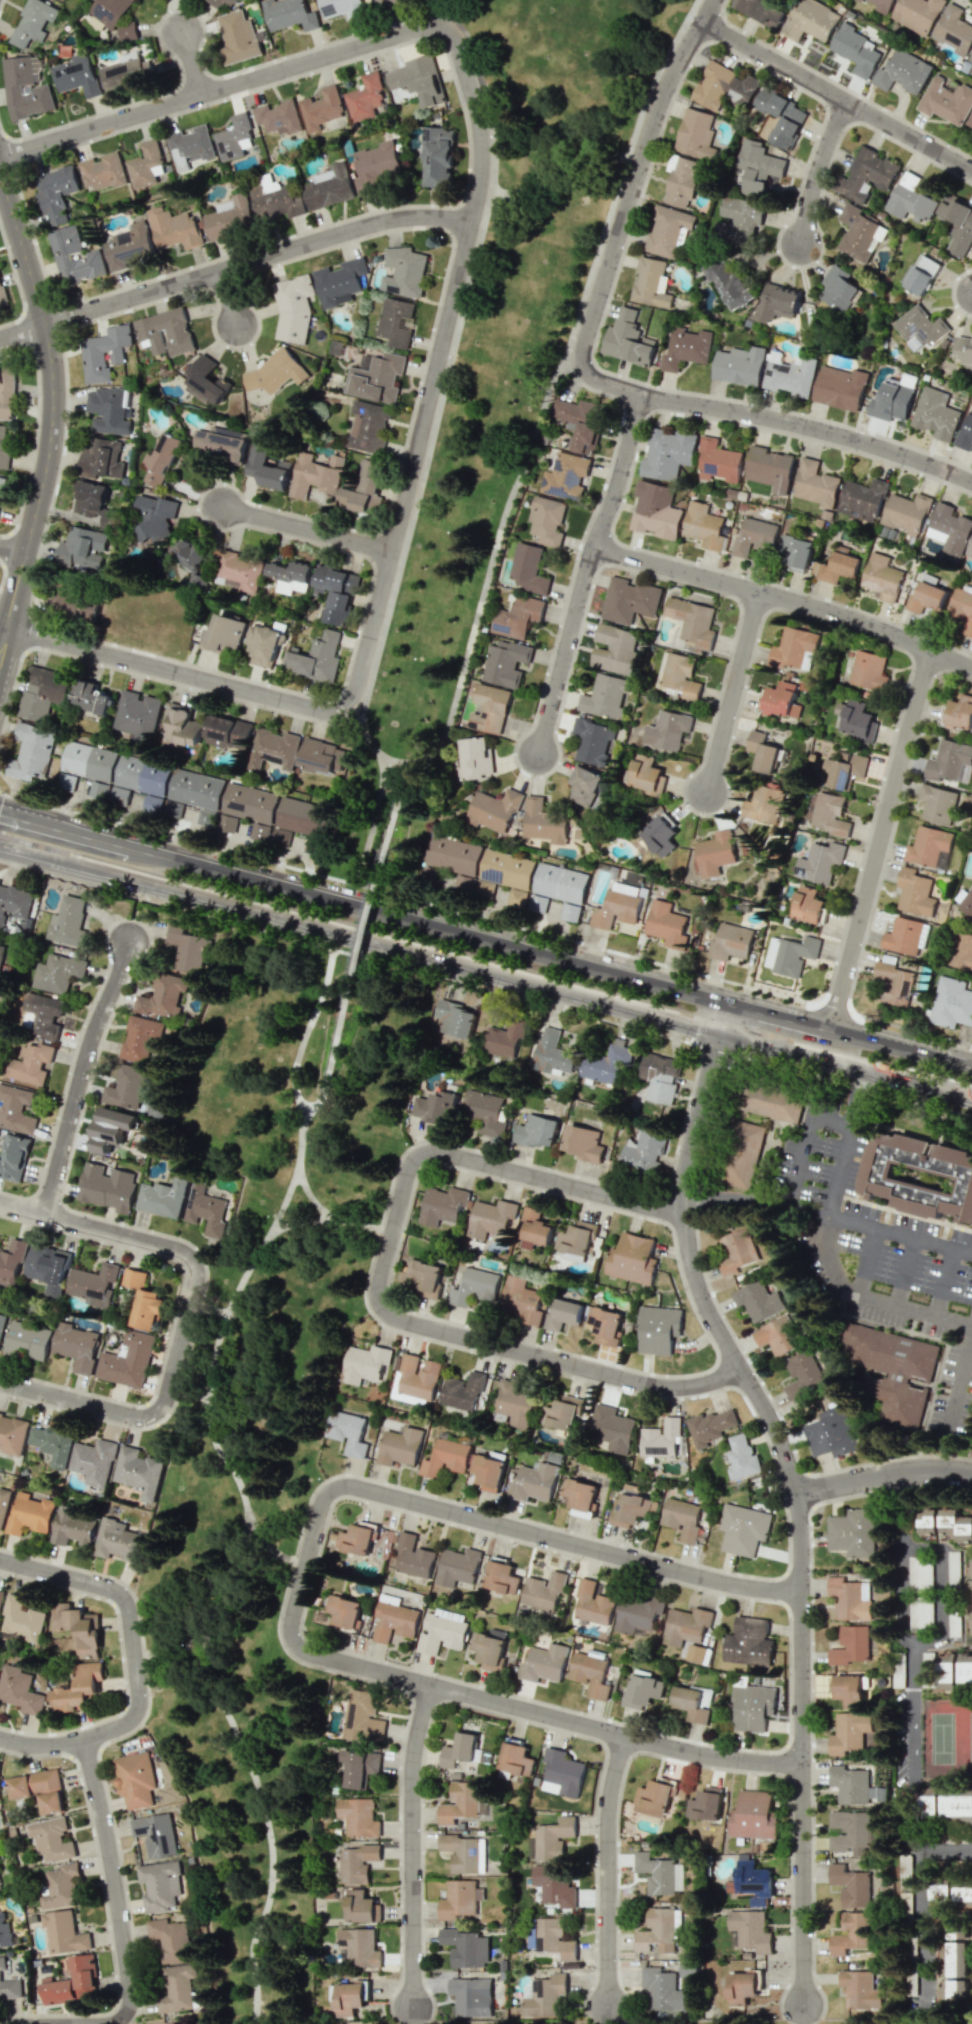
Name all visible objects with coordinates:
building: (65, 0)
building: (860, 0)
building: (391, 2)
building: (216, 5)
building: (882, 5)
building: (341, 7)
building: (762, 11)
building: (289, 14)
building: (917, 14)
building: (112, 17)
building: (811, 21)
building: (33, 22)
building: (953, 29)
building: (237, 37)
building: (856, 50)
building: (970, 58)
road: (192, 63)
building: (902, 72)
building: (126, 73)
building: (77, 74)
building: (418, 80)
building: (724, 87)
building: (24, 88)
road: (838, 94)
building: (364, 97)
building: (946, 100)
building: (321, 108)
building: (279, 117)
building: (782, 117)
building: (970, 122)
building: (696, 134)
building: (234, 138)
building: (190, 147)
building: (440, 158)
building: (146, 166)
building: (375, 166)
building: (758, 166)
road: (817, 170)
building: (103, 172)
building: (866, 175)
building: (682, 182)
building: (330, 187)
building: (56, 193)
building: (911, 197)
building: (275, 199)
building: (230, 217)
building: (738, 220)
building: (958, 224)
building: (174, 228)
building: (668, 230)
building: (860, 233)
building: (129, 246)
building: (62, 255)
road: (235, 266)
building: (404, 271)
building: (923, 274)
building: (340, 282)
building: (652, 282)
building: (730, 283)
building: (839, 288)
building: (2, 295)
road: (227, 298)
building: (777, 302)
building: (293, 308)
road: (451, 310)
building: (395, 321)
building: (920, 328)
building: (165, 332)
building: (628, 339)
building: (686, 348)
building: (964, 350)
building: (104, 352)
building: (739, 365)
building: (276, 371)
road: (589, 373)
road: (580, 374)
building: (376, 377)
building: (206, 380)
building: (840, 387)
park: (496, 389)
building: (7, 392)
building: (107, 410)
building: (936, 414)
road: (51, 416)
building: (581, 423)
building: (368, 427)
road: (539, 428)
building: (966, 432)
building: (222, 443)
building: (4, 449)
building: (668, 453)
building: (102, 459)
building: (163, 460)
building: (718, 461)
building: (267, 468)
building: (770, 468)
road: (620, 471)
building: (316, 474)
building: (566, 476)
building: (815, 483)
building: (1, 484)
building: (363, 490)
building: (90, 496)
building: (863, 499)
building: (655, 510)
building: (907, 512)
building: (155, 518)
building: (547, 520)
building: (704, 526)
building: (950, 528)
road: (306, 530)
building: (754, 537)
building: (83, 549)
road: (12, 551)
building: (970, 551)
building: (796, 552)
building: (189, 554)
building: (838, 565)
building: (528, 568)
building: (238, 571)
building: (291, 576)
building: (882, 577)
building: (337, 592)
building: (927, 597)
building: (629, 600)
road: (785, 600)
building: (74, 604)
building: (962, 608)
building: (517, 617)
building: (692, 621)
building: (225, 632)
building: (263, 645)
building: (793, 647)
building: (616, 649)
road: (564, 650)
building: (316, 658)
building: (506, 662)
building: (868, 670)
building: (679, 676)
building: (43, 692)
road: (734, 694)
building: (606, 696)
building: (90, 698)
building: (782, 699)
building: (490, 708)
building: (959, 712)
building: (857, 719)
building: (184, 728)
building: (668, 730)
building: (229, 732)
building: (593, 740)
building: (273, 749)
building: (762, 751)
building: (31, 752)
building: (321, 756)
building: (475, 758)
building: (949, 761)
building: (87, 763)
building: (844, 770)
building: (145, 780)
building: (585, 786)
building: (100, 789)
building: (196, 789)
building: (120, 795)
building: (938, 803)
building: (763, 805)
building: (174, 809)
building: (249, 810)
building: (494, 810)
building: (828, 813)
building: (206, 817)
building: (304, 819)
building: (544, 822)
building: (660, 835)
building: (280, 836)
road: (880, 841)
road: (6, 842)
building: (928, 845)
building: (720, 851)
building: (452, 861)
building: (820, 862)
road: (93, 865)
building: (506, 869)
building: (556, 886)
building: (484, 888)
building: (915, 892)
building: (516, 897)
building: (14, 902)
building: (967, 903)
building: (808, 904)
building: (617, 906)
building: (570, 911)
building: (68, 921)
road: (366, 922)
building: (667, 924)
building: (903, 935)
building: (731, 942)
road: (485, 944)
building: (186, 946)
building: (790, 954)
building: (1, 956)
building: (58, 972)
building: (895, 983)
road: (573, 989)
building: (163, 996)
building: (951, 1003)
building: (43, 1015)
building: (454, 1018)
road: (311, 1021)
building: (140, 1038)
building: (503, 1041)
building: (552, 1054)
road: (331, 1059)
building: (31, 1062)
building: (607, 1064)
road: (81, 1076)
building: (660, 1076)
building: (127, 1088)
building: (770, 1104)
building: (16, 1108)
building: (487, 1113)
road: (831, 1121)
building: (112, 1128)
building: (537, 1131)
building: (582, 1143)
building: (643, 1151)
building: (743, 1154)
building: (14, 1157)
road: (836, 1172)
road: (298, 1174)
building: (919, 1175)
building: (108, 1187)
building: (163, 1197)
road: (741, 1197)
building: (442, 1205)
building: (206, 1209)
building: (492, 1217)
road: (331, 1219)
road: (303, 1222)
road: (817, 1227)
building: (535, 1228)
road: (897, 1236)
building: (575, 1241)
building: (736, 1252)
building: (631, 1259)
road: (864, 1261)
building: (11, 1262)
building: (48, 1268)
road: (827, 1268)
road: (903, 1273)
building: (425, 1277)
road: (379, 1279)
building: (94, 1284)
road: (942, 1284)
building: (475, 1287)
building: (143, 1300)
building: (521, 1300)
building: (757, 1300)
road: (209, 1309)
building: (563, 1314)
road: (186, 1319)
building: (2, 1323)
building: (606, 1325)
building: (658, 1329)
building: (778, 1336)
building: (28, 1340)
building: (77, 1346)
building: (127, 1360)
building: (364, 1364)
road: (213, 1368)
building: (893, 1372)
building: (804, 1374)
building: (414, 1379)
road: (961, 1385)
building: (462, 1391)
road: (189, 1395)
building: (514, 1404)
building: (563, 1412)
park: (265, 1423)
building: (710, 1426)
building: (612, 1429)
building: (347, 1432)
building: (12, 1434)
building: (830, 1435)
building: (661, 1439)
building: (52, 1443)
building: (400, 1446)
building: (741, 1457)
building: (445, 1458)
building: (93, 1461)
building: (488, 1470)
building: (137, 1472)
road: (884, 1477)
building: (534, 1482)
road: (797, 1492)
building: (580, 1496)
building: (633, 1509)
building: (30, 1514)
building: (682, 1518)
building: (930, 1523)
building: (956, 1525)
building: (73, 1527)
building: (743, 1529)
building: (852, 1533)
building: (357, 1538)
building: (118, 1540)
road: (265, 1545)
building: (413, 1557)
road: (288, 1561)
building: (457, 1566)
building: (953, 1570)
building: (920, 1572)
building: (502, 1577)
road: (300, 1586)
building: (543, 1590)
road: (940, 1593)
road: (228, 1595)
building: (1, 1596)
building: (970, 1597)
building: (850, 1598)
building: (593, 1604)
building: (346, 1612)
building: (637, 1614)
building: (920, 1614)
building: (953, 1616)
building: (22, 1619)
building: (394, 1622)
building: (686, 1626)
building: (971, 1626)
building: (78, 1628)
building: (441, 1631)
building: (749, 1642)
building: (851, 1646)
road: (174, 1647)
road: (207, 1647)
building: (488, 1647)
building: (696, 1652)
road: (185, 1663)
building: (543, 1663)
road: (135, 1664)
building: (965, 1670)
building: (947, 1671)
building: (590, 1674)
building: (81, 1687)
road: (905, 1688)
building: (643, 1689)
building: (850, 1689)
building: (20, 1690)
building: (693, 1702)
building: (752, 1707)
building: (362, 1717)
building: (850, 1732)
building: (460, 1750)
building: (515, 1759)
building: (360, 1767)
building: (561, 1773)
building: (135, 1779)
building: (851, 1785)
building: (39, 1789)
building: (653, 1798)
building: (460, 1802)
building: (929, 1802)
building: (706, 1804)
building: (957, 1805)
building: (753, 1815)
building: (358, 1817)
building: (852, 1830)
building: (156, 1834)
building: (51, 1839)
building: (550, 1839)
road: (272, 1843)
road: (412, 1845)
building: (0, 1858)
building: (357, 1863)
road: (610, 1872)
building: (656, 1873)
building: (751, 1879)
building: (555, 1883)
road: (116, 1884)
building: (160, 1885)
building: (852, 1885)
building: (62, 1886)
building: (0, 1887)
building: (941, 1894)
building: (963, 1895)
building: (459, 1900)
building: (361, 1906)
road: (928, 1921)
building: (953, 1929)
building: (749, 1930)
building: (5, 1932)
building: (64, 1932)
building: (657, 1932)
building: (851, 1933)
building: (171, 1938)
building: (554, 1938)
building: (466, 1947)
building: (356, 1948)
building: (954, 1969)
building: (73, 1982)
building: (9, 1984)
building: (177, 1988)
building: (742, 1988)
building: (663, 1989)
building: (861, 1990)
building: (472, 1996)
building: (547, 1996)
building: (350, 1998)
road: (806, 2014)

